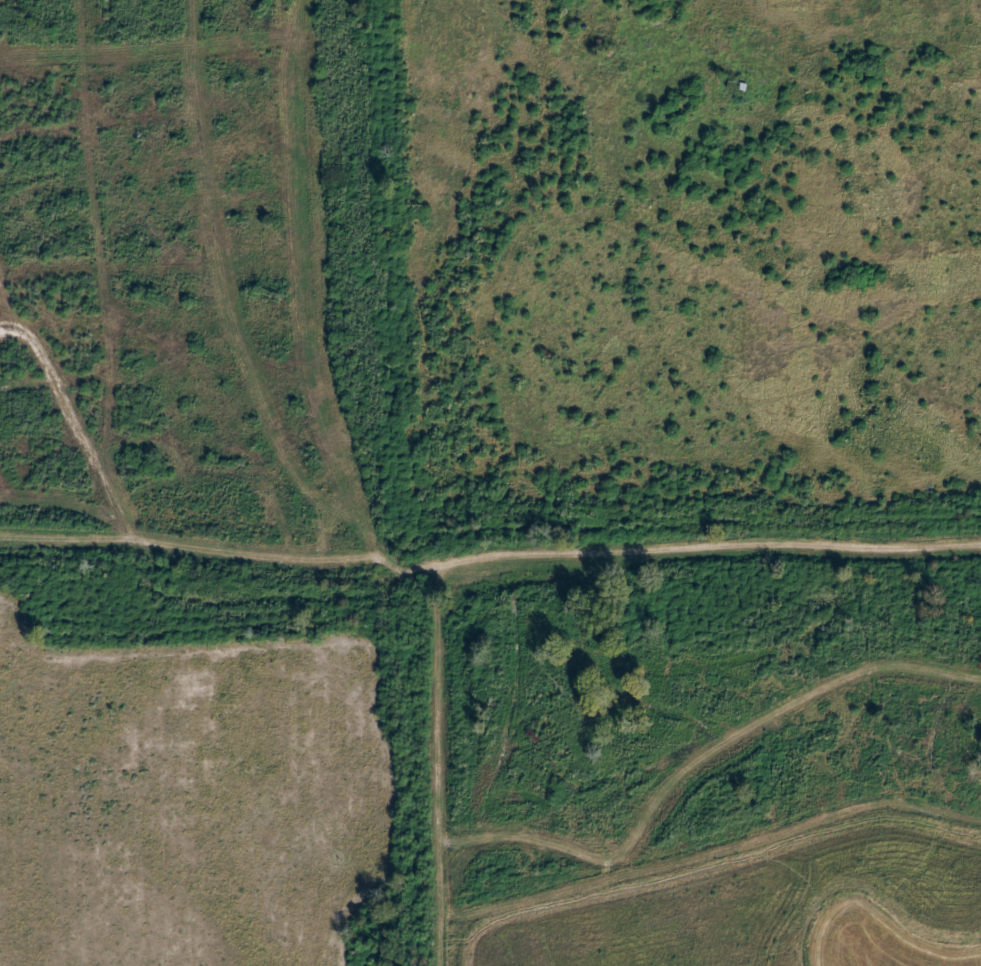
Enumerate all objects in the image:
road: (669, 792)

